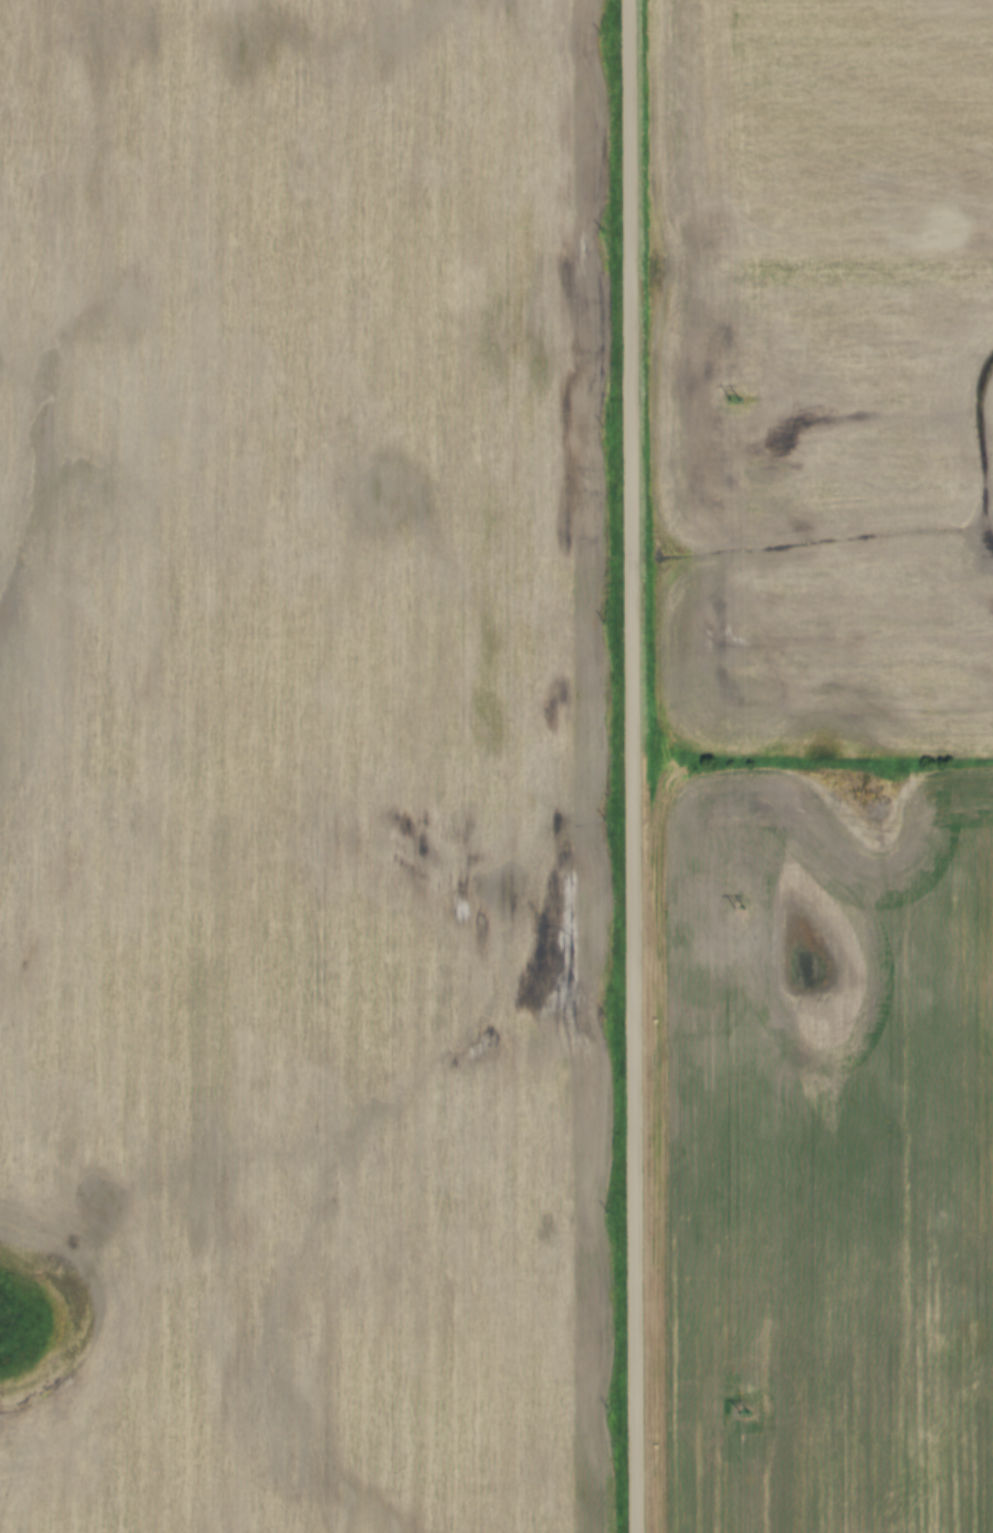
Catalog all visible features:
power tower: (731, 399)
road: (637, 766)
power tower: (736, 910)
power tower: (741, 1416)

